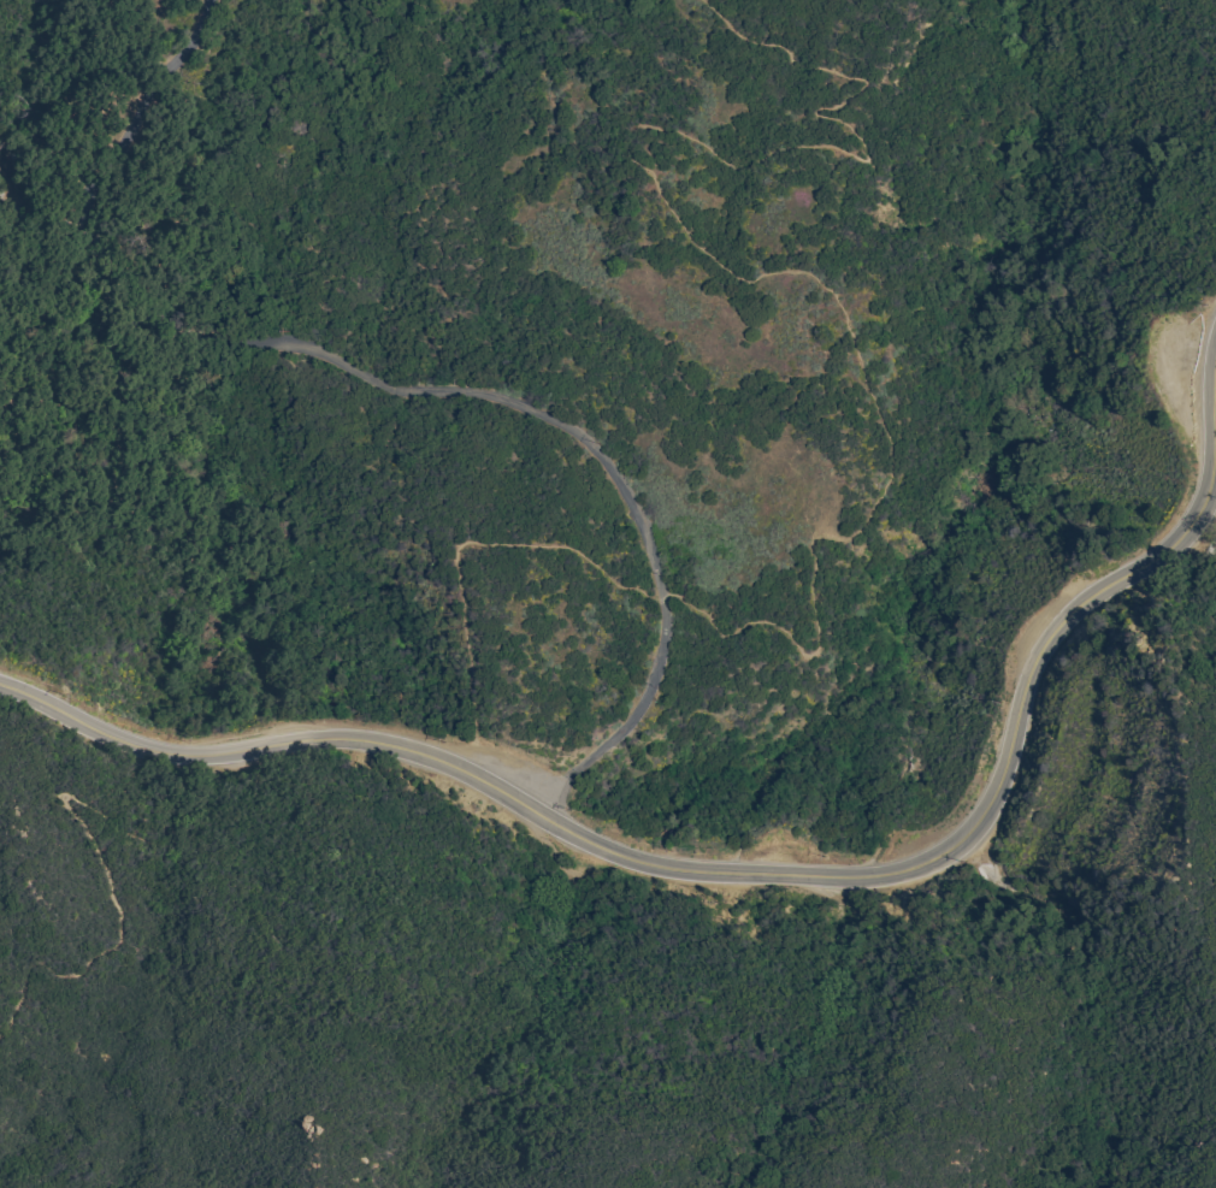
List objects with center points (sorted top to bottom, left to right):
road: (772, 45)
road: (768, 273)
road: (408, 391)
road: (458, 550)
road: (73, 800)
road: (757, 874)

